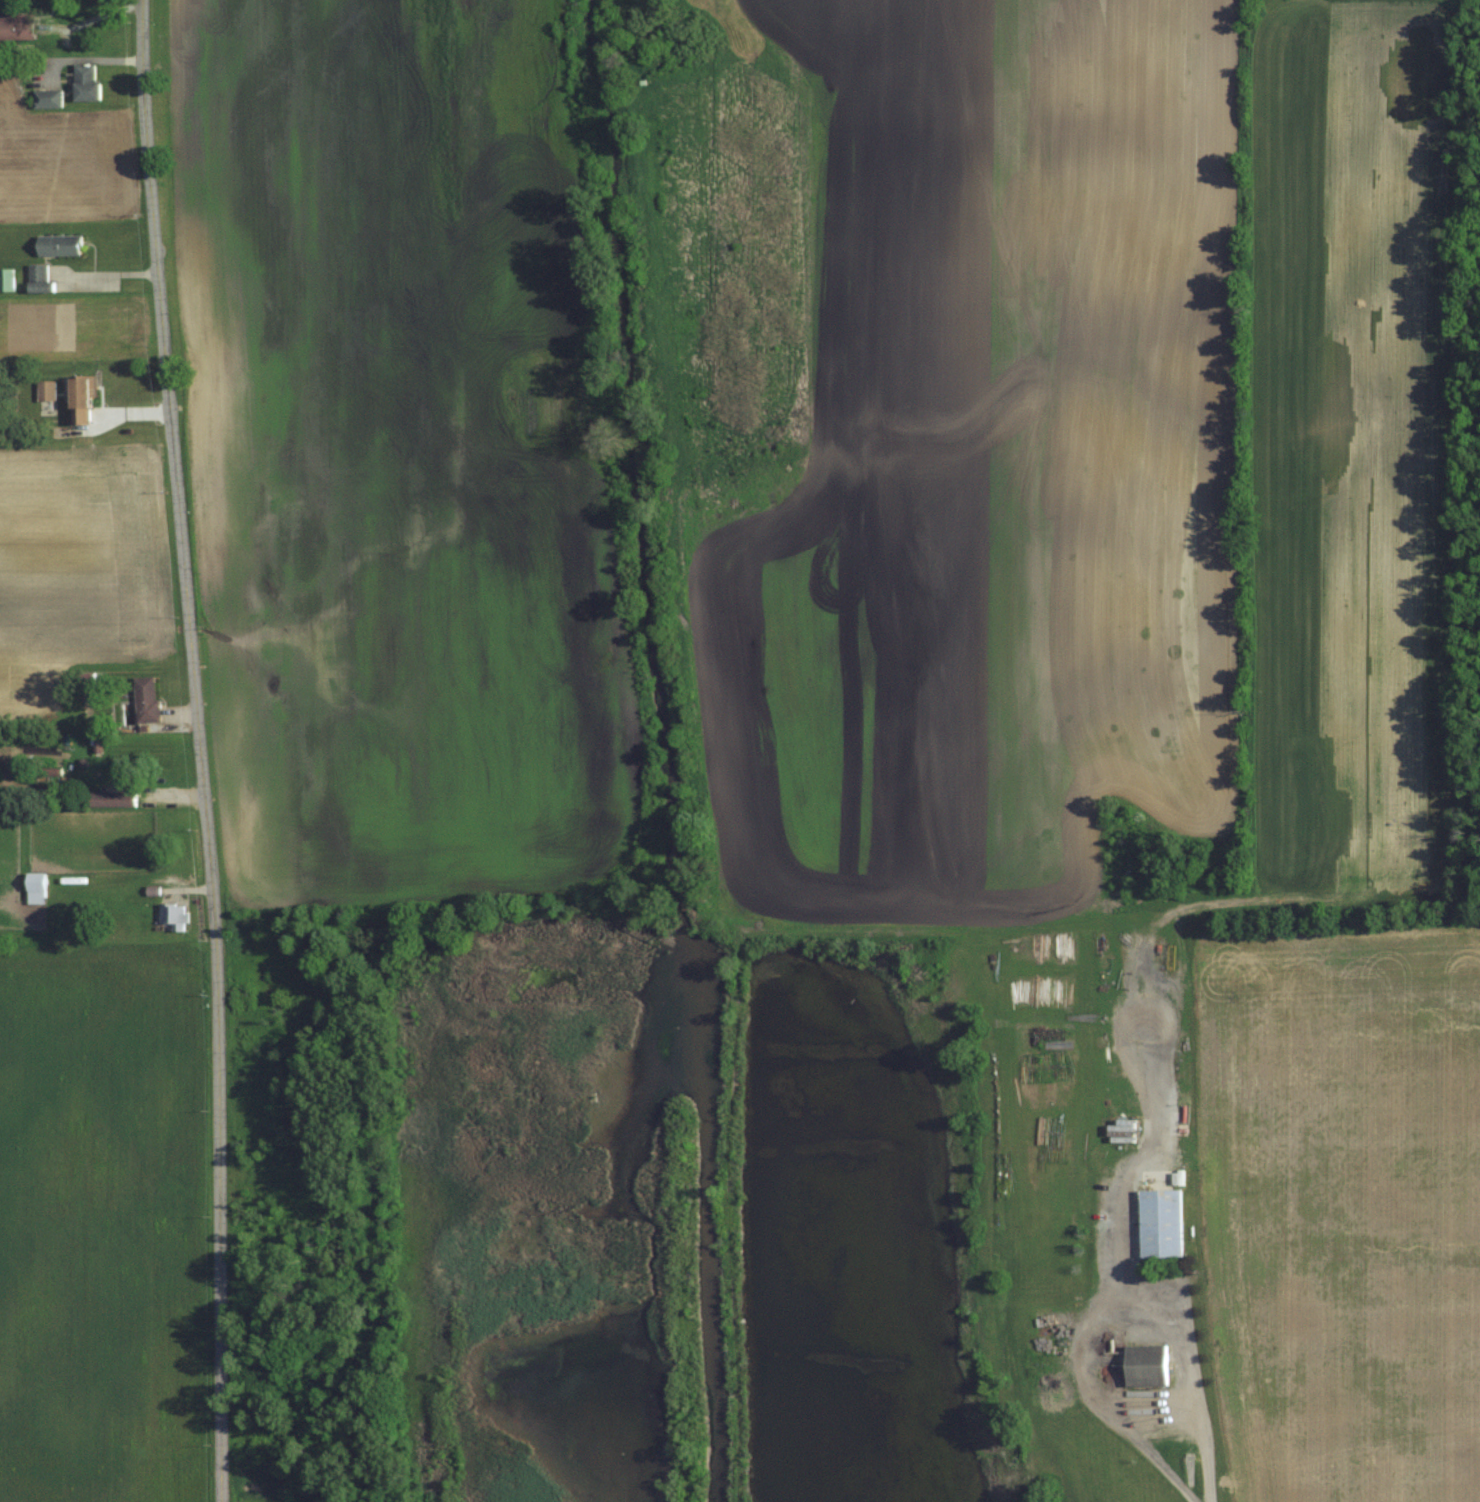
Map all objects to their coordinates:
building: (17, 26)
building: (85, 83)
building: (47, 99)
building: (59, 245)
building: (39, 279)
building: (6, 280)
building: (46, 398)
building: (81, 400)
building: (145, 698)
road: (201, 750)
building: (111, 798)
building: (35, 887)
building: (172, 916)
building: (1122, 1133)
building: (1160, 1222)
crop: (103, 1225)
building: (1145, 1364)
road: (1150, 1407)

